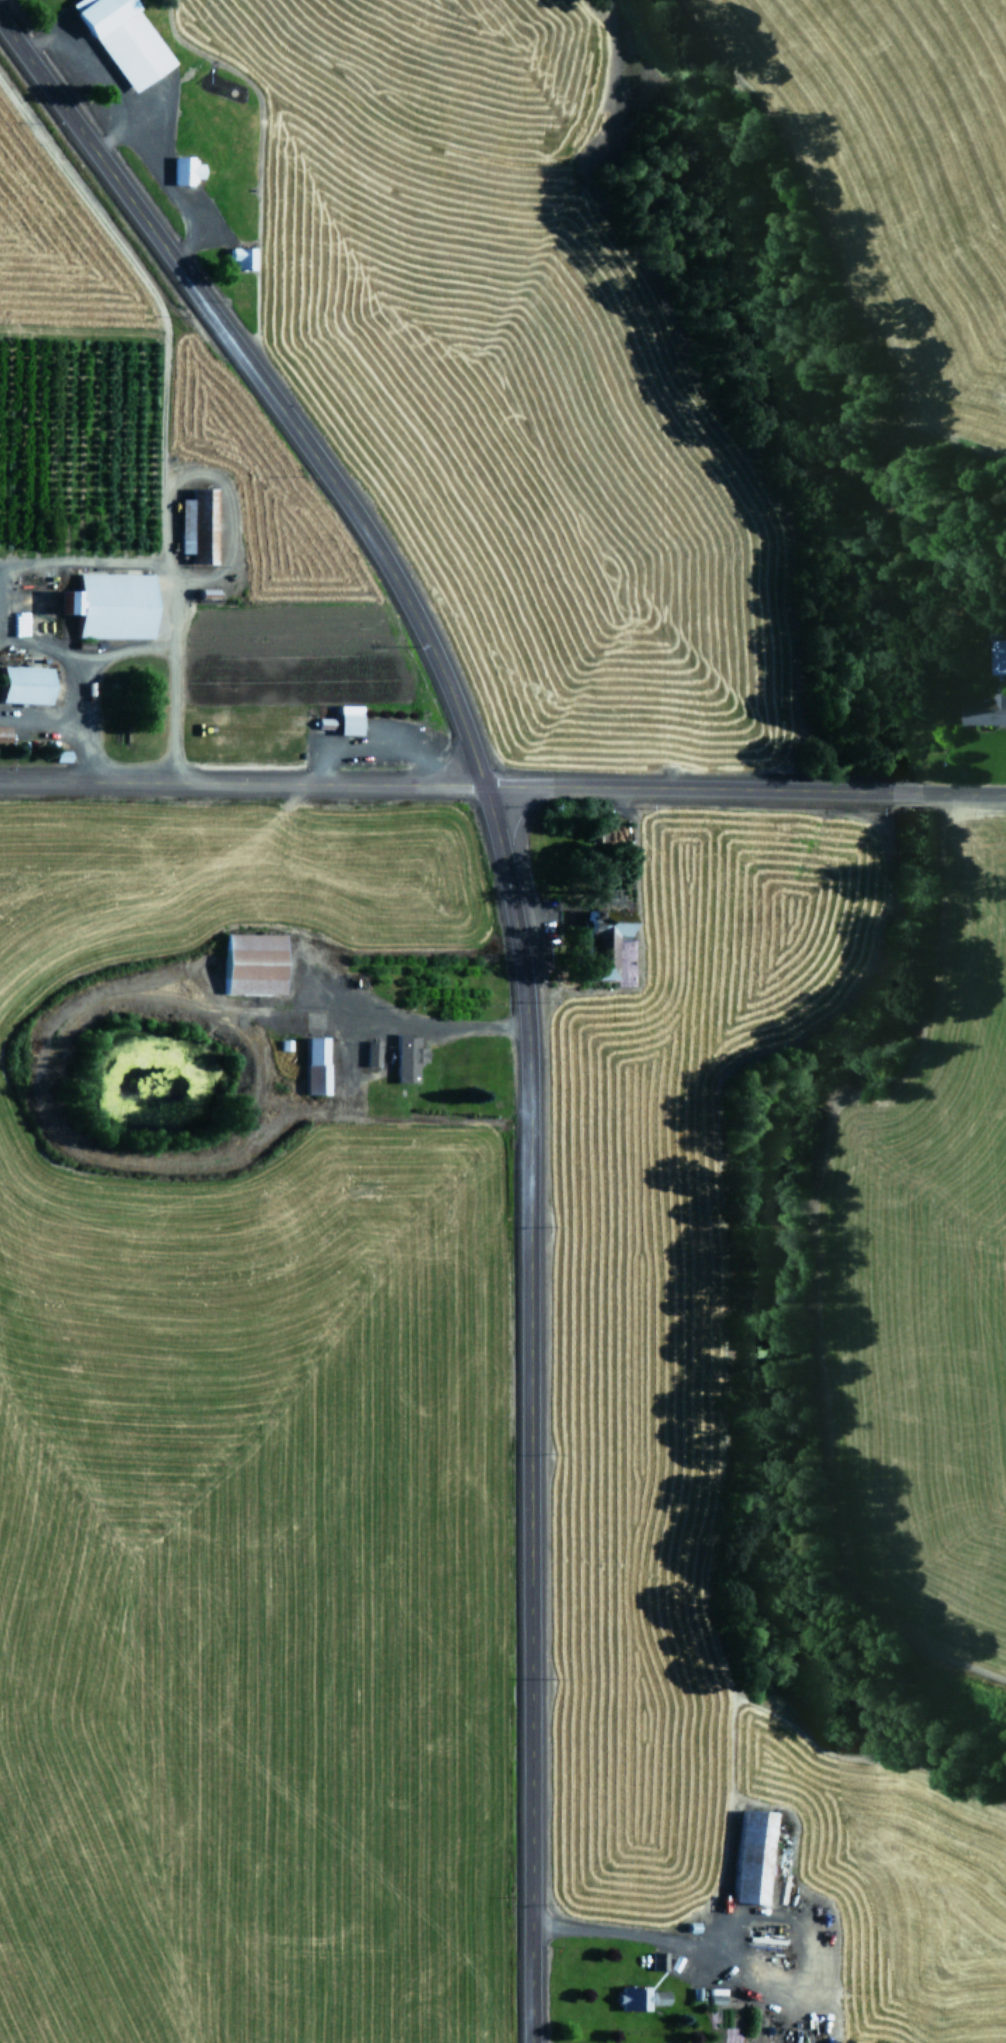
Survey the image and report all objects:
building: (122, 40)
building: (184, 170)
crop: (887, 180)
building: (240, 257)
crop: (348, 402)
building: (195, 525)
building: (106, 605)
building: (999, 656)
building: (21, 684)
building: (985, 710)
building: (345, 720)
building: (2, 733)
road: (240, 780)
road: (743, 788)
building: (600, 942)
road: (514, 960)
building: (249, 964)
building: (371, 1053)
building: (406, 1058)
building: (312, 1066)
crop: (927, 1267)
crop: (618, 1360)
crop: (247, 1427)
building: (748, 1857)
building: (658, 1961)
building: (659, 1997)
building: (632, 1998)

